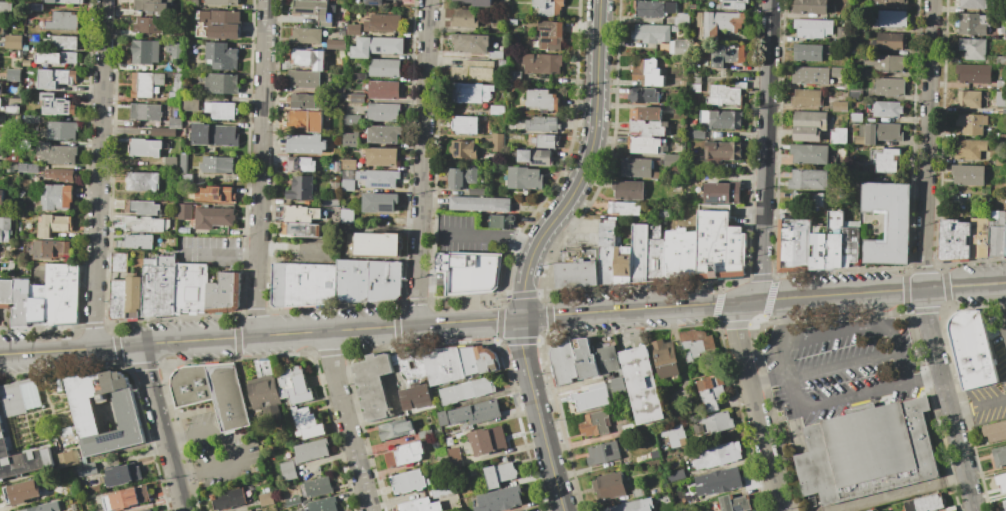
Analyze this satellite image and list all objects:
building: (62, 1)
building: (221, 2)
building: (191, 3)
building: (373, 3)
building: (475, 3)
building: (734, 4)
building: (892, 4)
building: (973, 4)
building: (151, 6)
building: (811, 6)
building: (33, 7)
building: (549, 7)
building: (5, 8)
building: (653, 8)
building: (315, 11)
building: (506, 14)
building: (491, 15)
building: (463, 18)
building: (681, 19)
building: (890, 19)
building: (62, 21)
building: (722, 22)
building: (513, 23)
building: (219, 24)
building: (384, 24)
building: (973, 24)
building: (149, 25)
building: (1, 27)
building: (858, 27)
building: (354, 28)
building: (813, 28)
building: (652, 33)
building: (843, 33)
building: (551, 35)
building: (306, 36)
building: (32, 37)
building: (890, 41)
building: (13, 42)
building: (62, 42)
building: (336, 44)
building: (470, 44)
building: (376, 46)
building: (25, 47)
building: (678, 47)
building: (973, 49)
building: (174, 51)
building: (145, 52)
building: (807, 52)
building: (19, 54)
building: (342, 54)
building: (495, 55)
building: (221, 56)
building: (727, 56)
building: (57, 58)
building: (310, 59)
building: (1000, 61)
building: (26, 62)
building: (886, 62)
building: (542, 63)
building: (502, 64)
building: (384, 67)
building: (179, 69)
building: (473, 70)
building: (836, 72)
building: (866, 72)
building: (647, 73)
building: (973, 74)
building: (13, 75)
building: (810, 75)
building: (359, 76)
building: (515, 77)
building: (55, 78)
building: (304, 79)
building: (221, 83)
building: (694, 83)
building: (146, 84)
building: (1001, 84)
building: (890, 87)
building: (0, 88)
building: (176, 89)
building: (339, 90)
building: (383, 90)
building: (470, 93)
building: (725, 94)
building: (855, 94)
building: (643, 95)
building: (355, 98)
building: (806, 98)
building: (970, 99)
building: (542, 100)
building: (0, 101)
building: (190, 101)
building: (305, 101)
building: (56, 105)
building: (839, 106)
building: (886, 109)
building: (12, 110)
building: (221, 110)
building: (497, 110)
building: (999, 110)
building: (145, 112)
building: (383, 112)
building: (647, 113)
building: (856, 117)
building: (10, 119)
building: (34, 119)
building: (351, 119)
building: (724, 119)
building: (305, 121)
building: (174, 124)
building: (545, 124)
building: (971, 124)
building: (465, 125)
building: (808, 126)
road: (593, 127)
building: (649, 128)
building: (345, 129)
building: (60, 131)
building: (163, 132)
building: (878, 133)
building: (382, 134)
building: (214, 135)
building: (695, 135)
building: (838, 136)
building: (350, 139)
building: (545, 141)
building: (497, 143)
building: (305, 144)
building: (646, 145)
building: (144, 147)
rooftop solar panel: (458, 148)
building: (462, 149)
building: (968, 149)
building: (724, 151)
road: (764, 152)
building: (809, 154)
building: (61, 155)
building: (12, 156)
building: (381, 157)
building: (535, 157)
building: (885, 160)
building: (672, 161)
building: (183, 162)
road: (424, 162)
building: (169, 163)
building: (300, 164)
building: (348, 164)
building: (216, 165)
road: (260, 167)
building: (12, 168)
building: (30, 168)
building: (638, 168)
road: (97, 173)
building: (59, 174)
building: (347, 174)
building: (967, 174)
building: (462, 176)
building: (690, 176)
rooftop solar panel: (363, 177)
building: (378, 178)
building: (524, 178)
building: (186, 180)
building: (808, 180)
building: (143, 181)
rooftop solar panel: (379, 184)
building: (347, 185)
building: (334, 186)
building: (998, 187)
building: (300, 188)
building: (628, 190)
building: (476, 191)
building: (722, 193)
building: (219, 194)
building: (2, 197)
building: (56, 197)
building: (809, 199)
building: (330, 201)
building: (379, 202)
building: (480, 204)
building: (142, 207)
building: (173, 208)
building: (624, 208)
building: (185, 211)
building: (301, 214)
building: (663, 214)
building: (346, 215)
building: (213, 217)
building: (501, 222)
building: (145, 224)
building: (54, 225)
building: (898, 226)
building: (5, 228)
building: (303, 230)
building: (996, 233)
building: (1005, 236)
building: (979, 237)
road: (490, 238)
building: (954, 239)
building: (137, 241)
building: (172, 242)
building: (827, 243)
building: (379, 245)
building: (719, 245)
building: (793, 245)
road: (293, 246)
building: (164, 247)
building: (643, 247)
building: (850, 247)
building: (48, 250)
parking lot: (210, 251)
building: (607, 251)
building: (682, 254)
road: (220, 255)
road: (923, 258)
building: (657, 260)
building: (119, 262)
building: (150, 262)
building: (624, 265)
building: (578, 268)
building: (469, 273)
road: (524, 277)
building: (368, 281)
building: (303, 285)
building: (159, 288)
building: (191, 288)
building: (6, 292)
building: (225, 293)
building: (62, 294)
building: (134, 297)
building: (118, 299)
road: (763, 299)
building: (21, 302)
road: (1001, 302)
building: (37, 304)
road: (875, 309)
traffic signals: (521, 318)
road: (790, 318)
fountain: (1, 321)
road: (834, 333)
road: (260, 335)
building: (696, 343)
parking lot: (998, 345)
building: (971, 350)
road: (899, 353)
building: (666, 358)
building: (487, 359)
building: (586, 359)
road: (783, 359)
building: (608, 360)
building: (469, 361)
building: (564, 362)
building: (443, 365)
road: (843, 365)
parking lot: (840, 367)
building: (414, 380)
road: (926, 380)
road: (770, 384)
building: (295, 385)
building: (373, 385)
building: (643, 385)
building: (266, 391)
building: (468, 391)
building: (213, 392)
building: (29, 393)
building: (711, 393)
building: (11, 398)
building: (591, 398)
road: (839, 401)
road: (756, 404)
road: (861, 407)
road: (978, 407)
building: (480, 412)
building: (105, 413)
road: (537, 414)
road: (347, 421)
building: (720, 422)
building: (307, 423)
building: (596, 424)
road: (162, 427)
building: (448, 428)
building: (395, 429)
building: (699, 430)
building: (995, 431)
building: (425, 433)
building: (675, 437)
rooftop solar panel: (110, 439)
building: (488, 440)
road: (177, 441)
building: (668, 445)
building: (312, 450)
road: (235, 451)
parking lot: (221, 452)
building: (604, 453)
building: (867, 453)
building: (19, 454)
building: (405, 454)
building: (442, 455)
building: (455, 455)
building: (718, 455)
building: (999, 456)
building: (643, 457)
building: (68, 458)
building: (87, 470)
building: (288, 471)
building: (122, 474)
building: (499, 474)
building: (676, 475)
road: (186, 477)
building: (718, 481)
building: (409, 482)
building: (1001, 482)
building: (610, 485)
building: (319, 486)
building: (63, 491)
building: (21, 492)
building: (442, 492)
building: (638, 493)
building: (75, 497)
building: (126, 498)
building: (266, 498)
building: (228, 499)
building: (499, 499)
building: (291, 501)
building: (734, 503)
building: (924, 503)
building: (1004, 503)
building: (323, 504)
building: (417, 505)
building: (628, 506)
building: (38, 508)
building: (148, 510)
building: (151, 510)
building: (523, 510)

